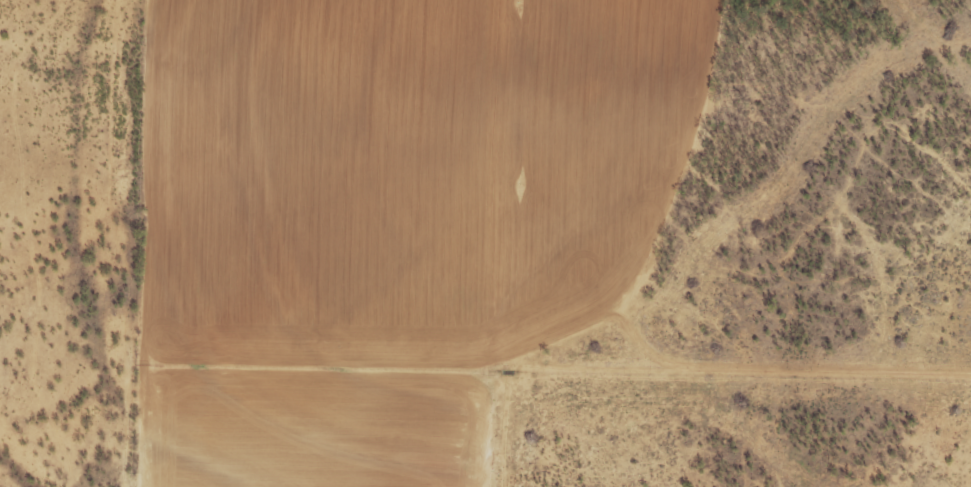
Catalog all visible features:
road: (488, 243)

